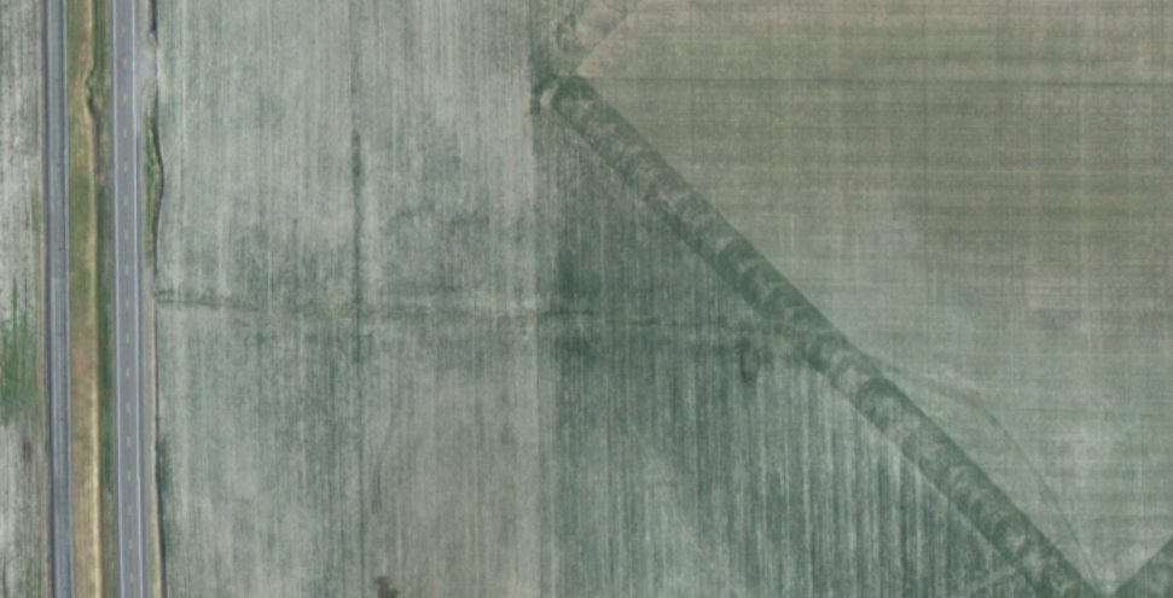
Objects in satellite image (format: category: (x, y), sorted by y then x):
crop: (651, 297)
road: (52, 298)
road: (123, 298)
airport: (277, 298)
crop: (25, 310)

